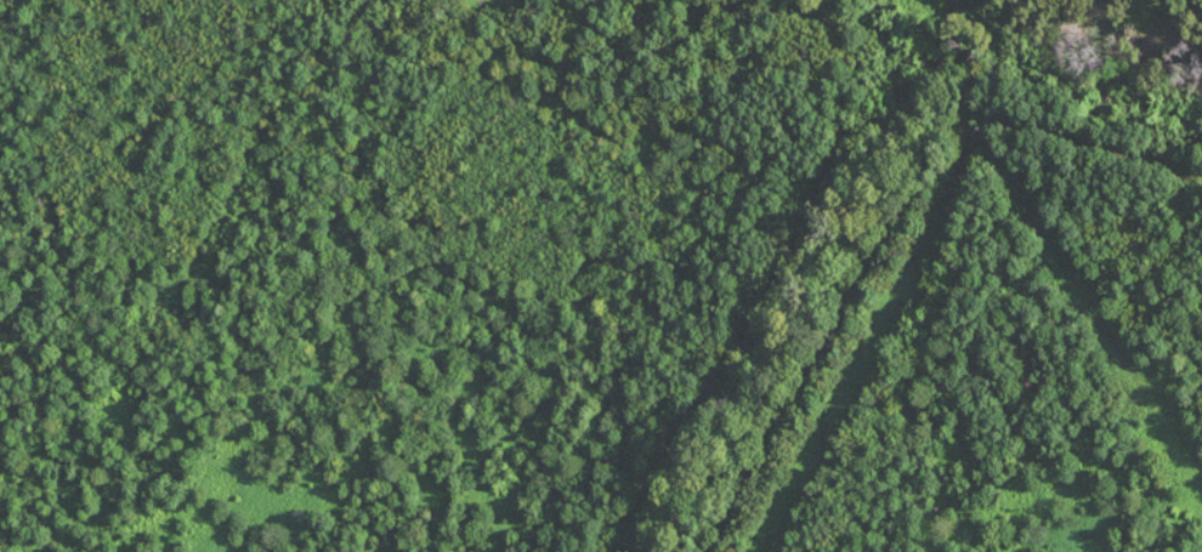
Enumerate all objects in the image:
road: (834, 325)

